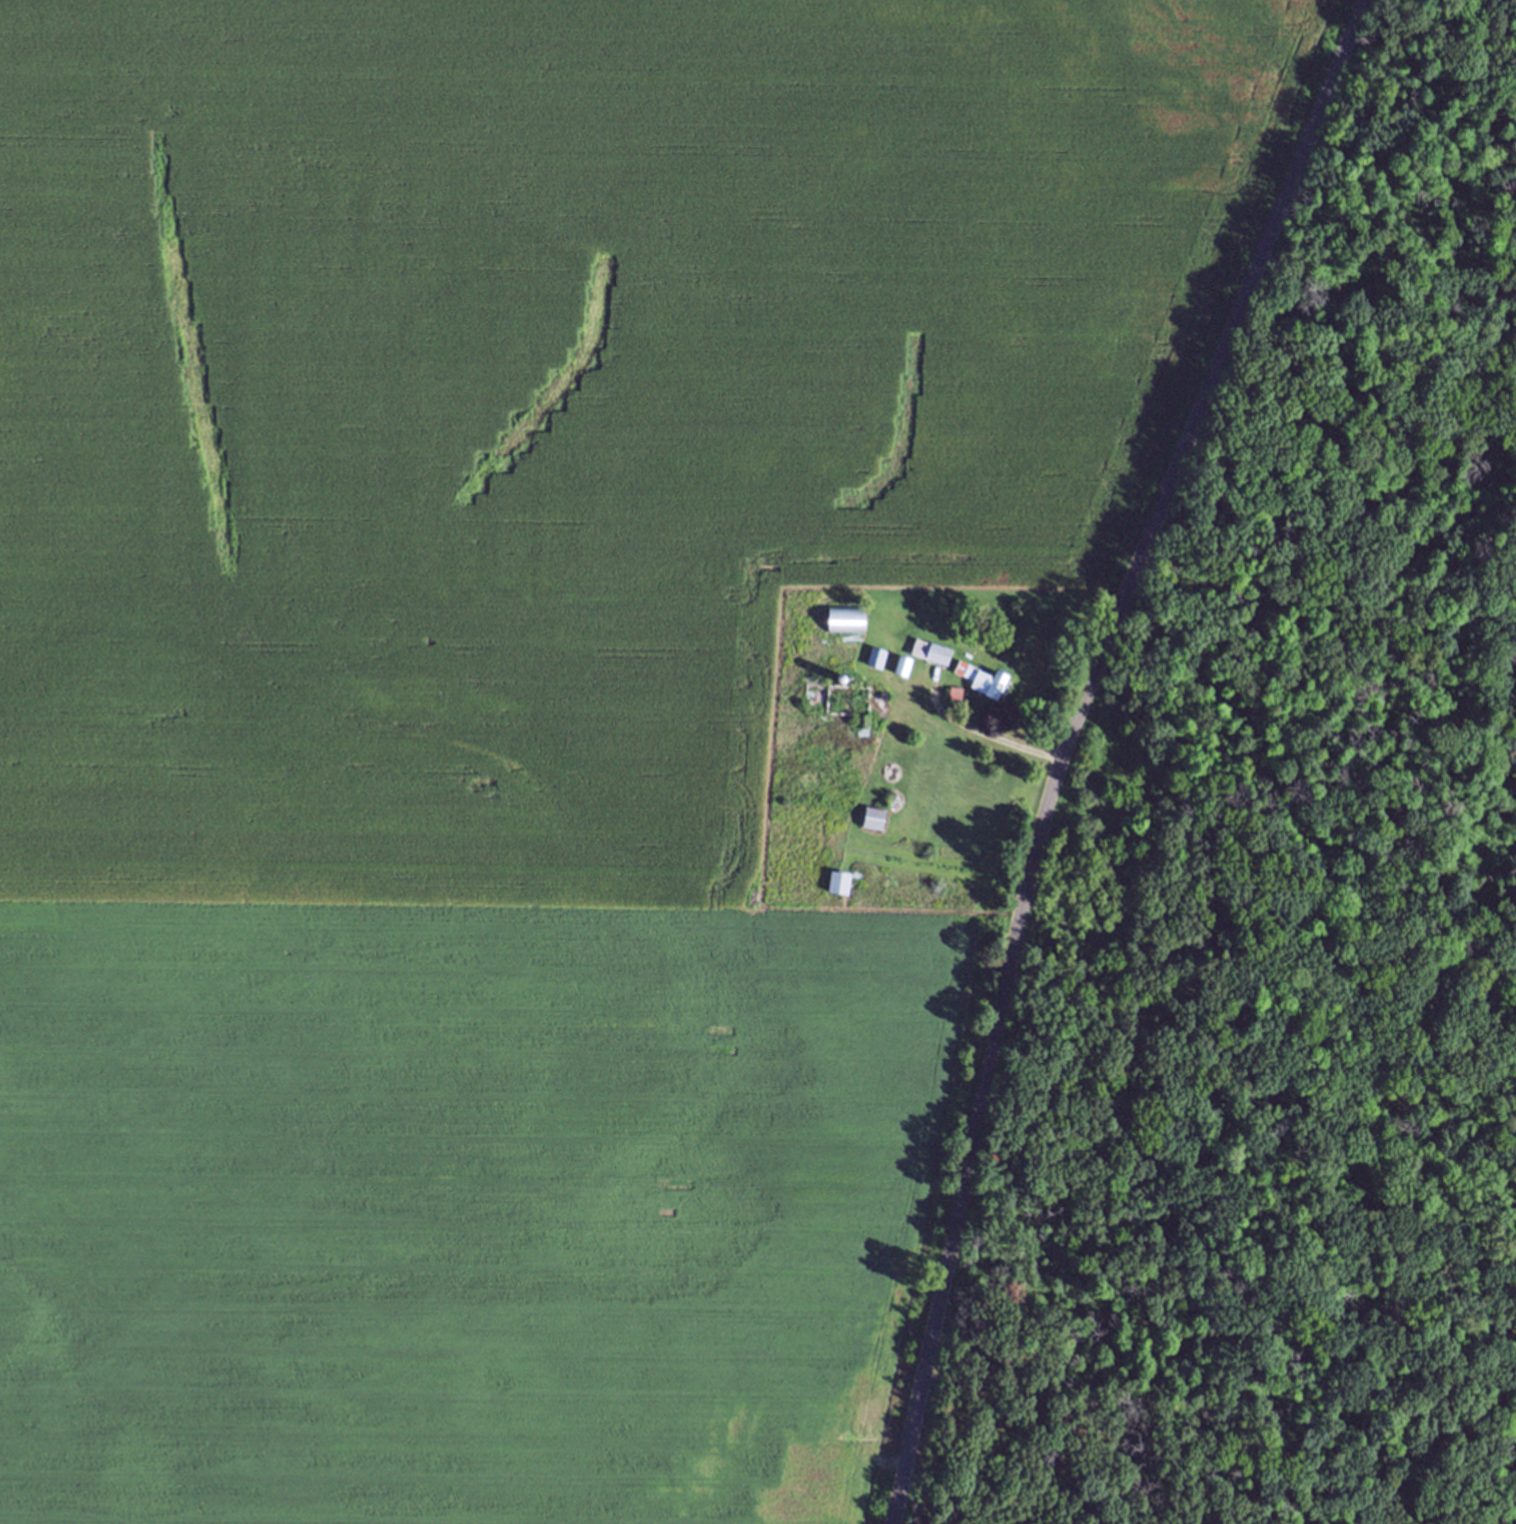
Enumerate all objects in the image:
building: (931, 661)
building: (981, 689)
building: (844, 711)
road: (984, 734)
road: (1065, 743)
building: (872, 827)
building: (840, 891)

